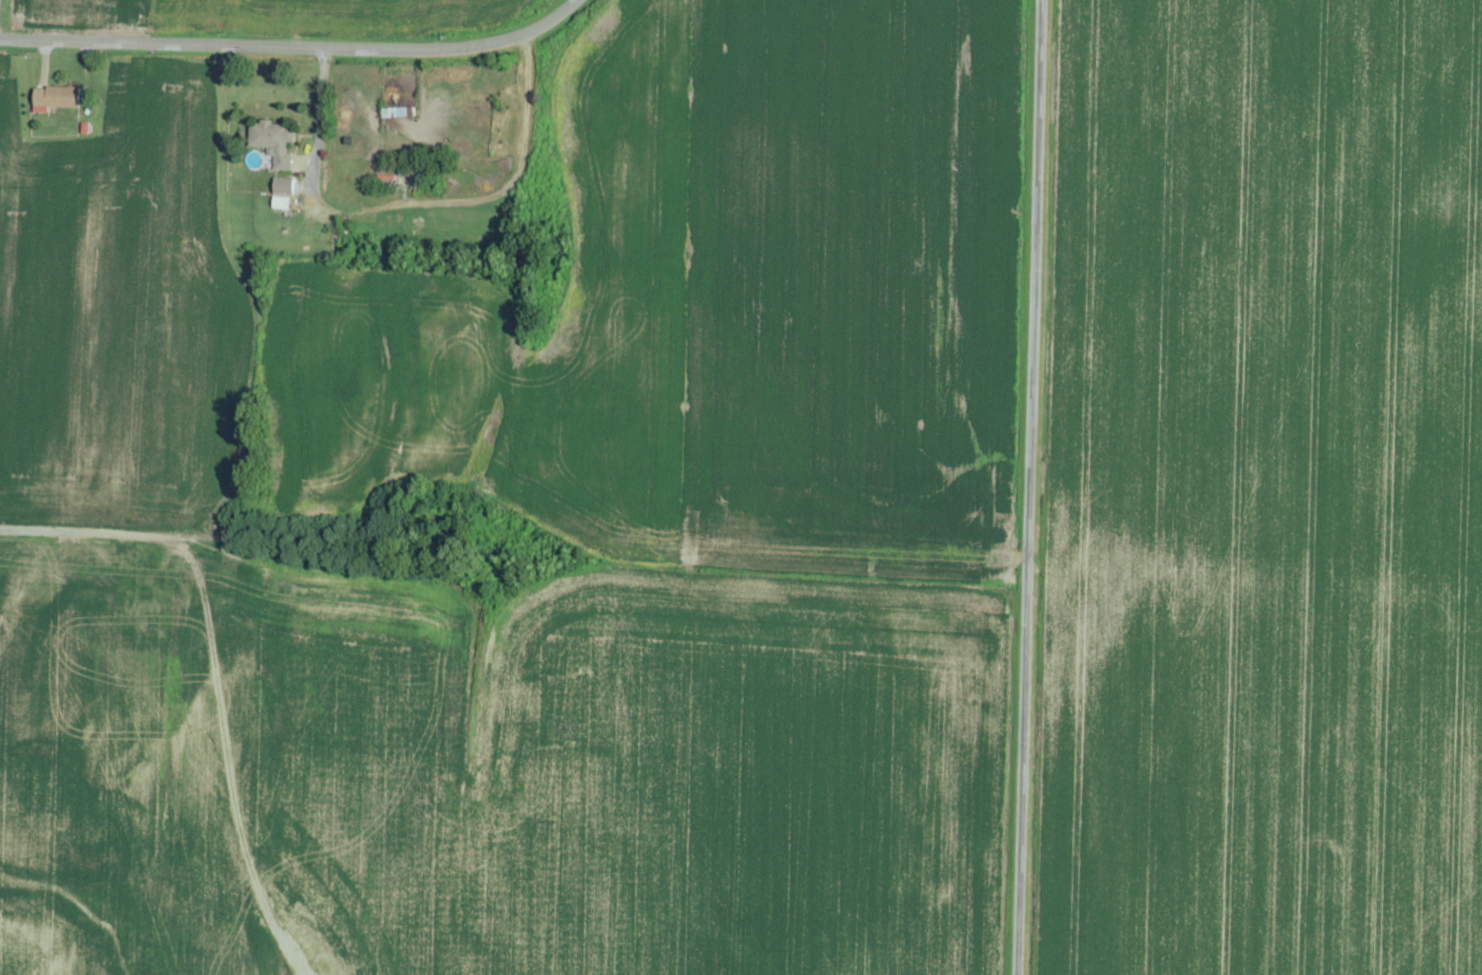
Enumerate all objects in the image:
road: (8, 14)
road: (321, 24)
building: (60, 96)
building: (277, 142)
building: (286, 185)
road: (1070, 487)
road: (92, 533)

